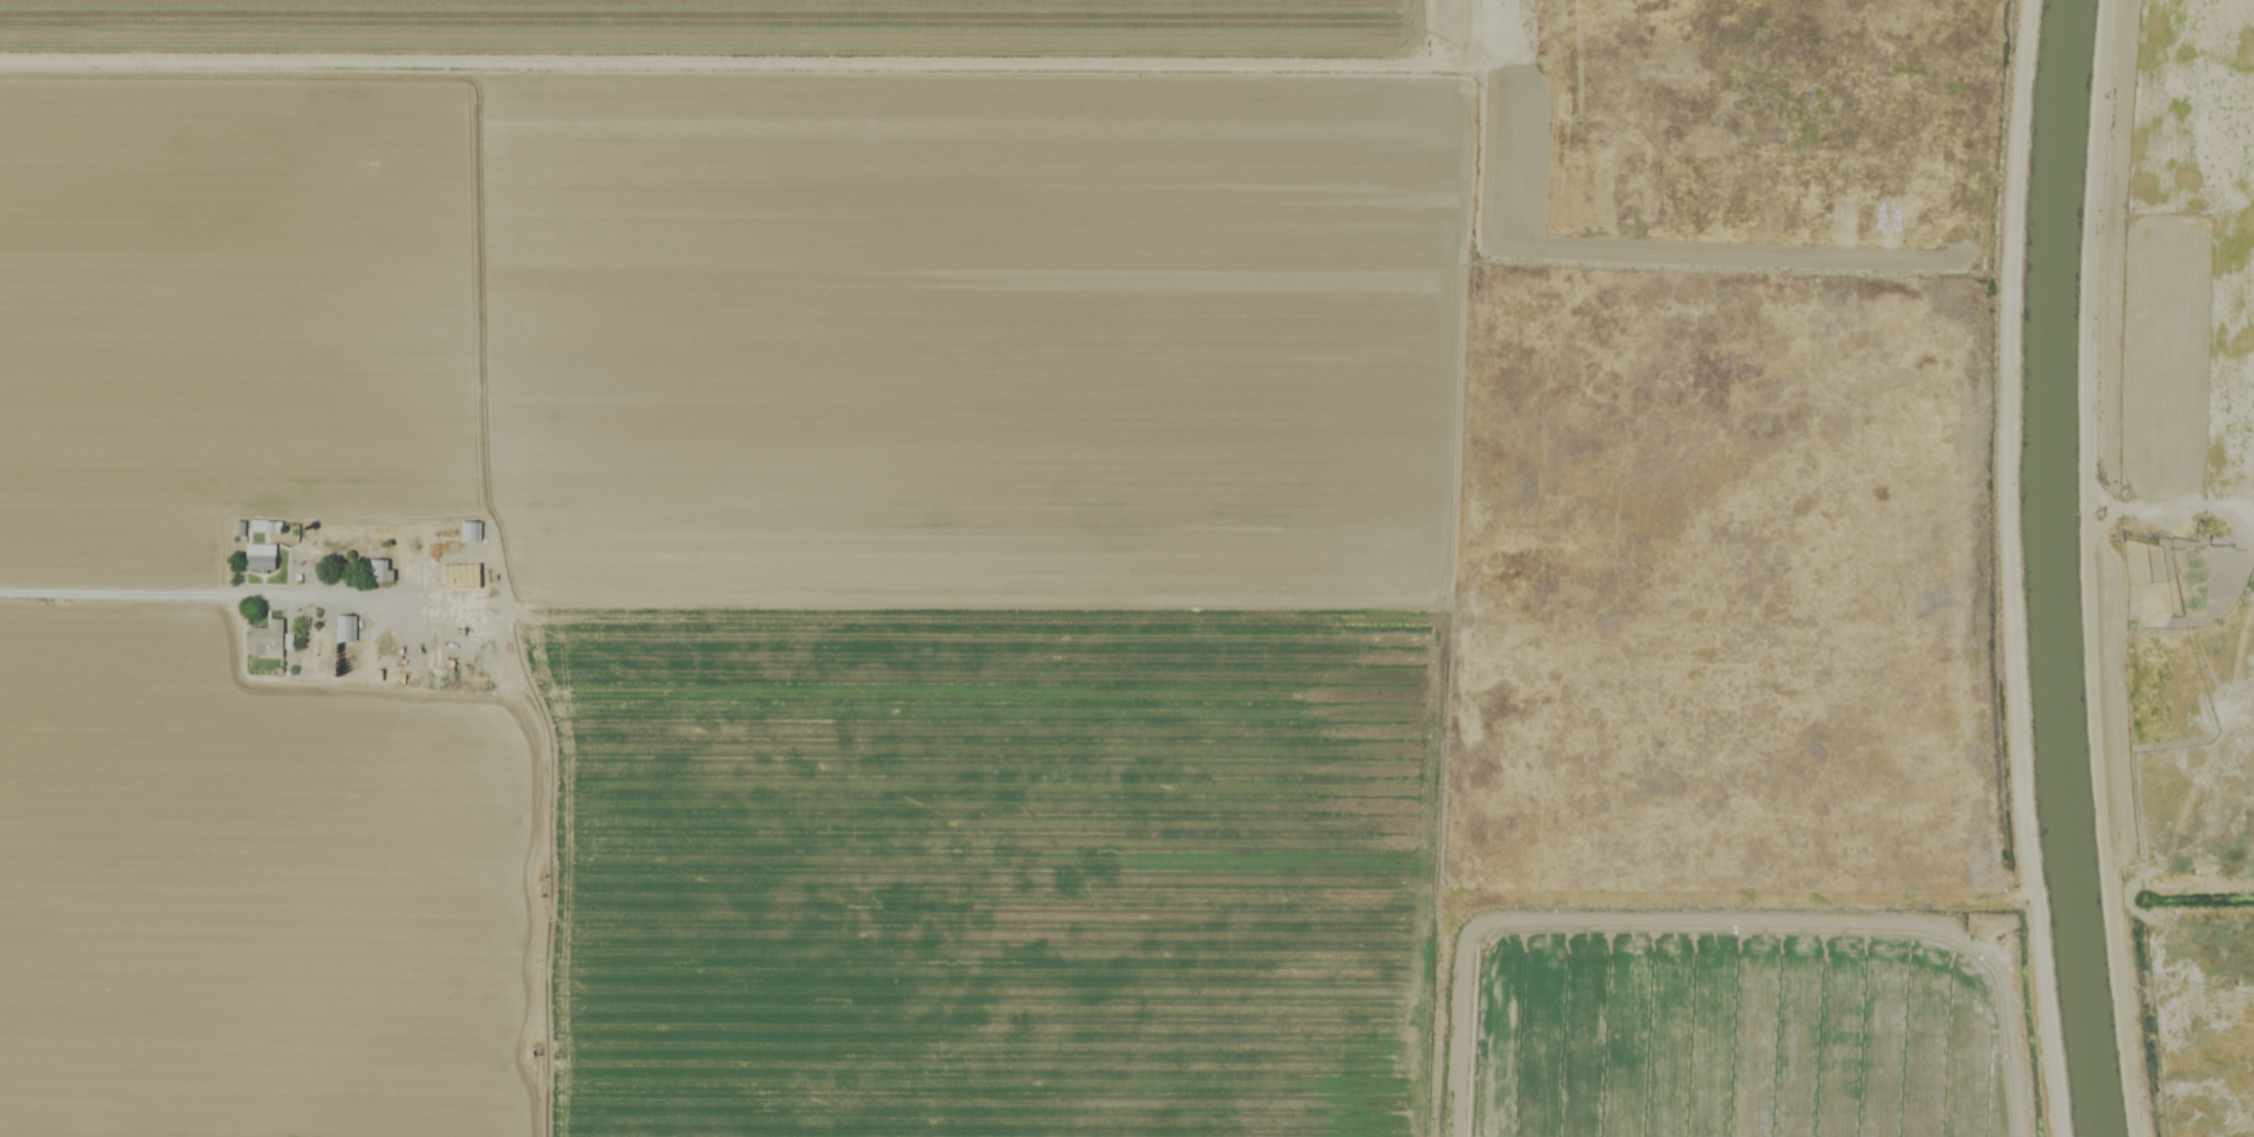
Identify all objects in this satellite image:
building: (262, 556)
building: (385, 569)
road: (172, 594)
crop: (831, 602)
building: (268, 638)

